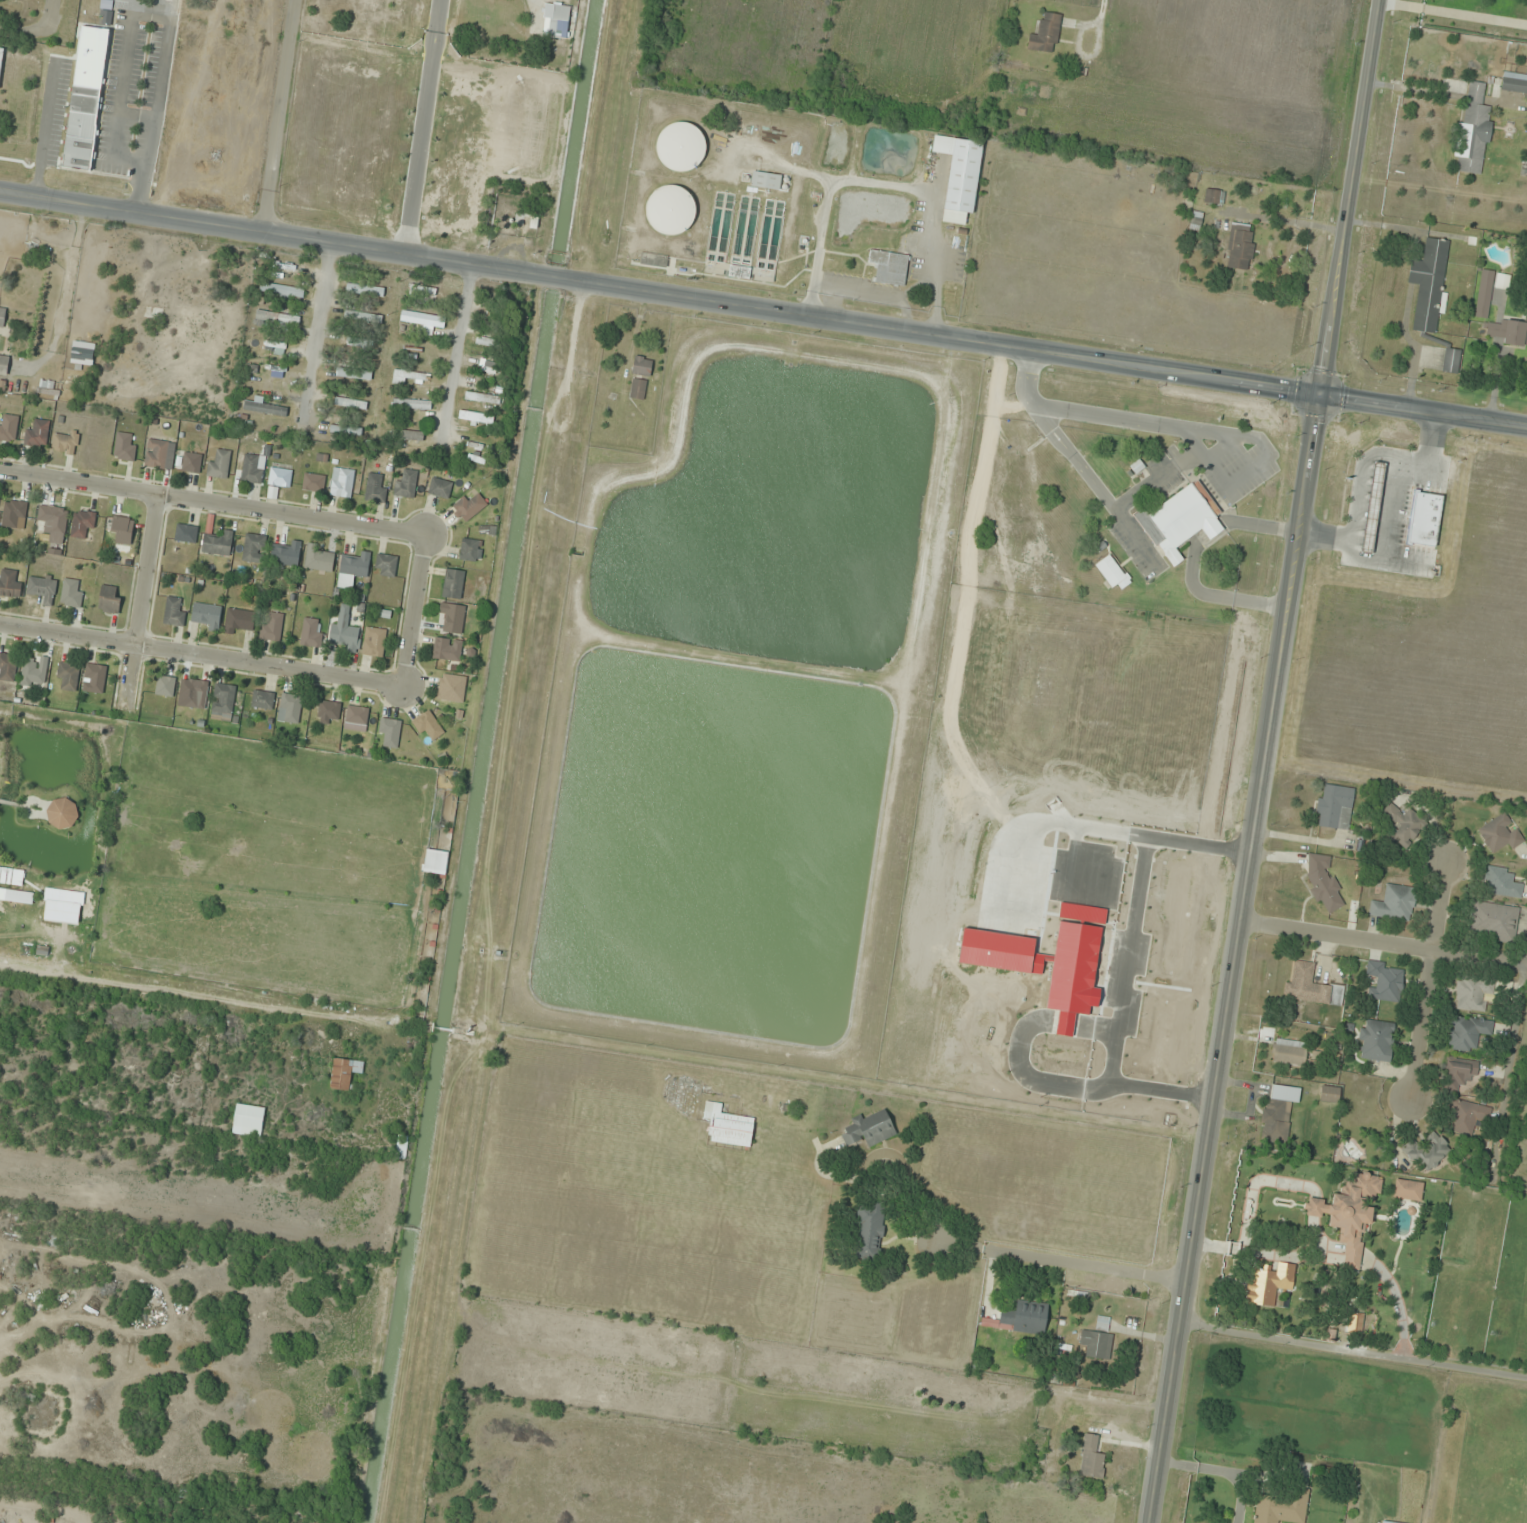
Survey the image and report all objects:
building: (559, 21)
building: (1046, 34)
building: (1514, 82)
building: (86, 98)
road: (277, 114)
building: (1473, 130)
building: (680, 145)
storage tank: (680, 145)
building: (958, 175)
building: (765, 181)
road: (915, 190)
building: (1214, 197)
wastewater plant: (798, 202)
building: (670, 208)
storage tank: (670, 208)
road: (1288, 222)
road: (819, 245)
building: (1240, 247)
building: (888, 266)
building: (1502, 281)
building: (1428, 285)
road: (661, 290)
building: (281, 291)
building: (364, 291)
building: (422, 291)
building: (1484, 294)
building: (2, 313)
building: (277, 318)
building: (362, 319)
building: (418, 320)
road: (317, 328)
building: (1505, 333)
road: (457, 355)
building: (1451, 360)
building: (3, 366)
building: (641, 366)
building: (407, 375)
building: (637, 389)
traffic signals: (1322, 394)
building: (46, 395)
building: (481, 398)
building: (350, 404)
building: (412, 404)
building: (263, 407)
road: (1424, 409)
building: (476, 418)
road: (1125, 419)
building: (8, 429)
building: (37, 434)
building: (336, 434)
building: (65, 443)
road: (1219, 446)
building: (124, 447)
building: (159, 454)
road: (1073, 458)
building: (191, 463)
building: (219, 465)
building: (252, 469)
building: (279, 478)
road: (1156, 479)
road: (1219, 479)
building: (313, 483)
building: (341, 483)
building: (405, 484)
building: (439, 488)
building: (374, 489)
road: (215, 504)
building: (468, 507)
building: (1373, 508)
building: (14, 515)
building: (1179, 519)
building: (1424, 520)
building: (82, 523)
building: (55, 524)
building: (122, 529)
building: (186, 534)
road: (1137, 539)
building: (218, 544)
building: (1099, 546)
building: (253, 548)
building: (470, 550)
building: (286, 555)
road: (1193, 557)
building: (318, 559)
building: (385, 565)
building: (353, 570)
building: (1111, 572)
building: (453, 584)
building: (10, 585)
building: (42, 587)
building: (71, 593)
building: (109, 599)
road: (143, 600)
building: (174, 611)
road: (419, 613)
building: (207, 616)
building: (451, 618)
building: (238, 621)
building: (271, 627)
building: (311, 633)
building: (343, 637)
building: (373, 642)
building: (447, 650)
road: (203, 657)
building: (8, 667)
building: (34, 671)
building: (67, 677)
building: (94, 679)
building: (165, 686)
building: (451, 688)
building: (196, 694)
building: (223, 700)
building: (262, 700)
wastewater plant: (744, 703)
building: (290, 708)
building: (328, 710)
building: (356, 718)
building: (428, 725)
building: (389, 732)
road: (1267, 761)
building: (1335, 807)
building: (63, 815)
building: (1402, 825)
building: (1500, 834)
building: (1323, 883)
building: (1502, 883)
building: (1394, 904)
building: (1495, 922)
road: (1379, 942)
road: (161, 969)
building: (1385, 982)
road: (1428, 982)
building: (1310, 987)
building: (1472, 995)
building: (1468, 1034)
building: (1376, 1041)
building: (1292, 1053)
building: (344, 1073)
building: (1459, 1074)
building: (1329, 1094)
building: (1466, 1117)
building: (248, 1122)
building: (1275, 1122)
building: (728, 1126)
building: (869, 1129)
building: (1427, 1152)
building: (1408, 1190)
building: (1350, 1213)
building: (869, 1231)
road: (1091, 1265)
building: (1270, 1285)
building: (1114, 1290)
building: (1022, 1318)
building: (1098, 1340)
building: (1091, 1458)
building: (1282, 1507)
building: (1385, 1522)

